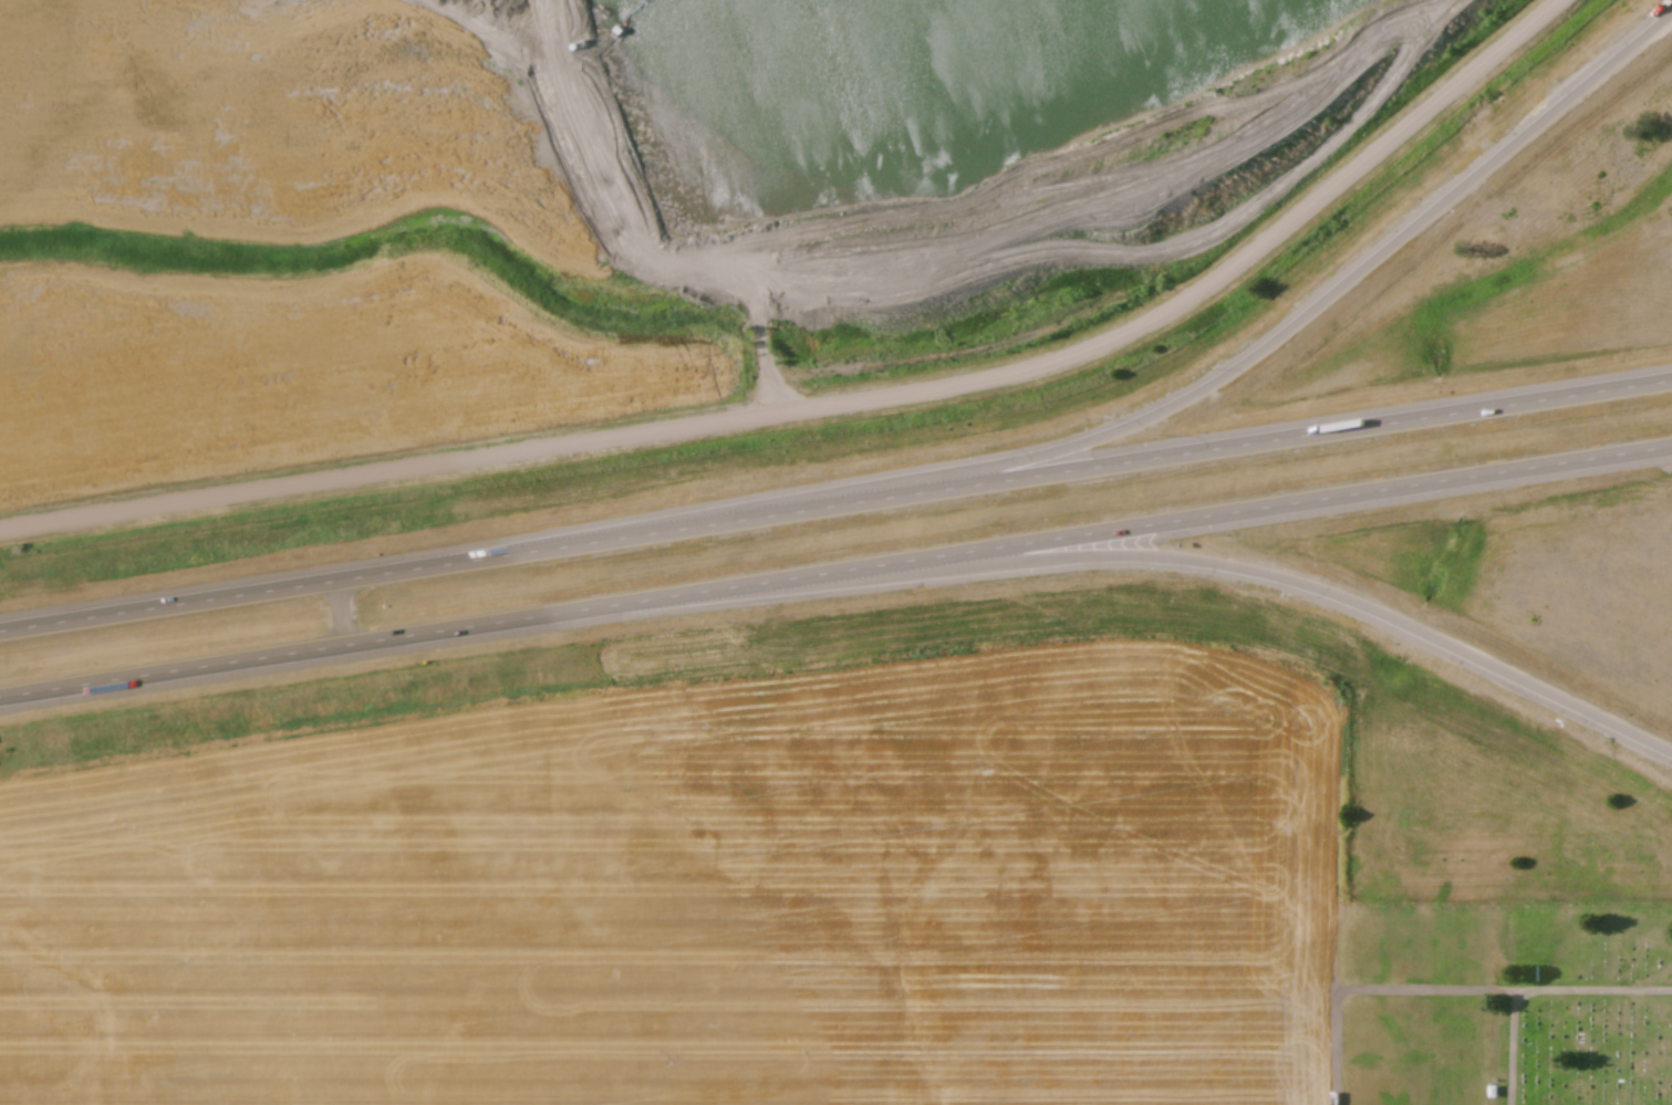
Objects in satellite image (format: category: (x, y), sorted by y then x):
road: (1235, 373)
road: (839, 403)
road: (835, 504)
road: (1186, 561)
road: (835, 569)
park: (1588, 1009)

